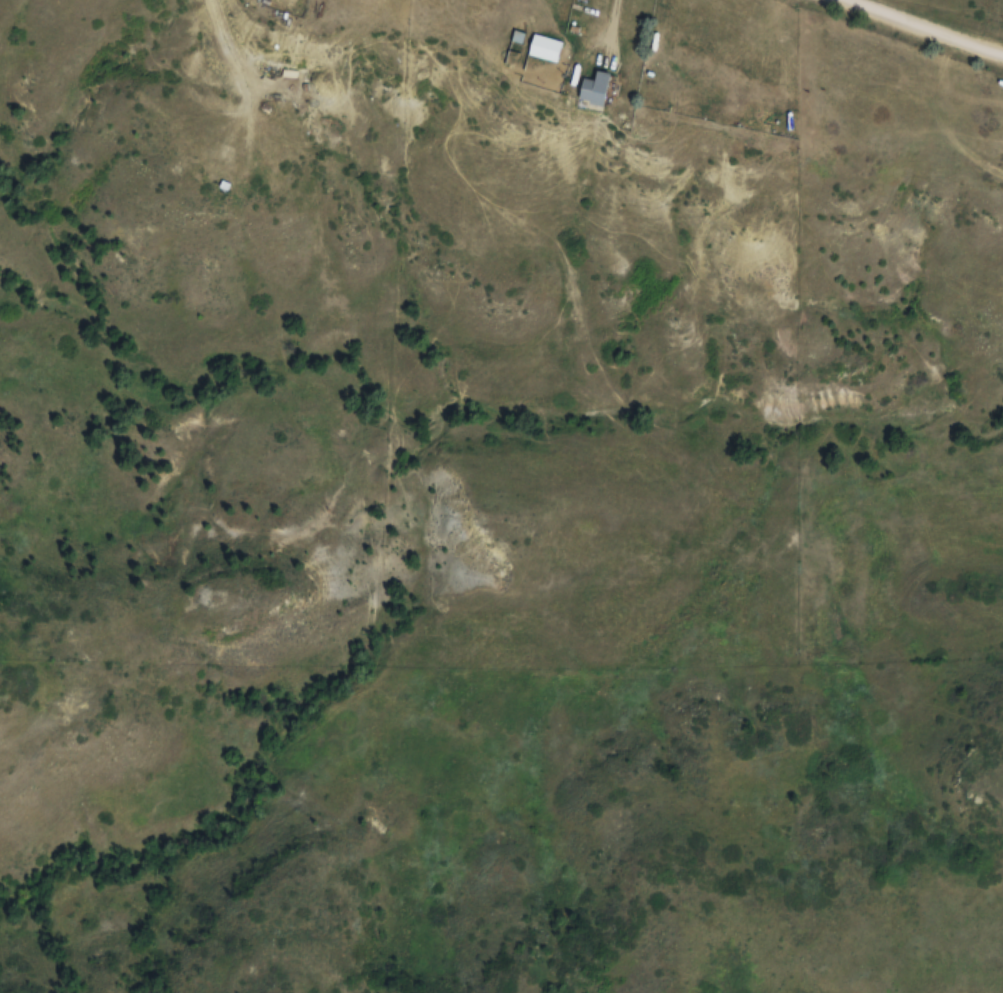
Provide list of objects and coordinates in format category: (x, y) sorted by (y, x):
road: (927, 26)
building: (545, 48)
building: (594, 85)

